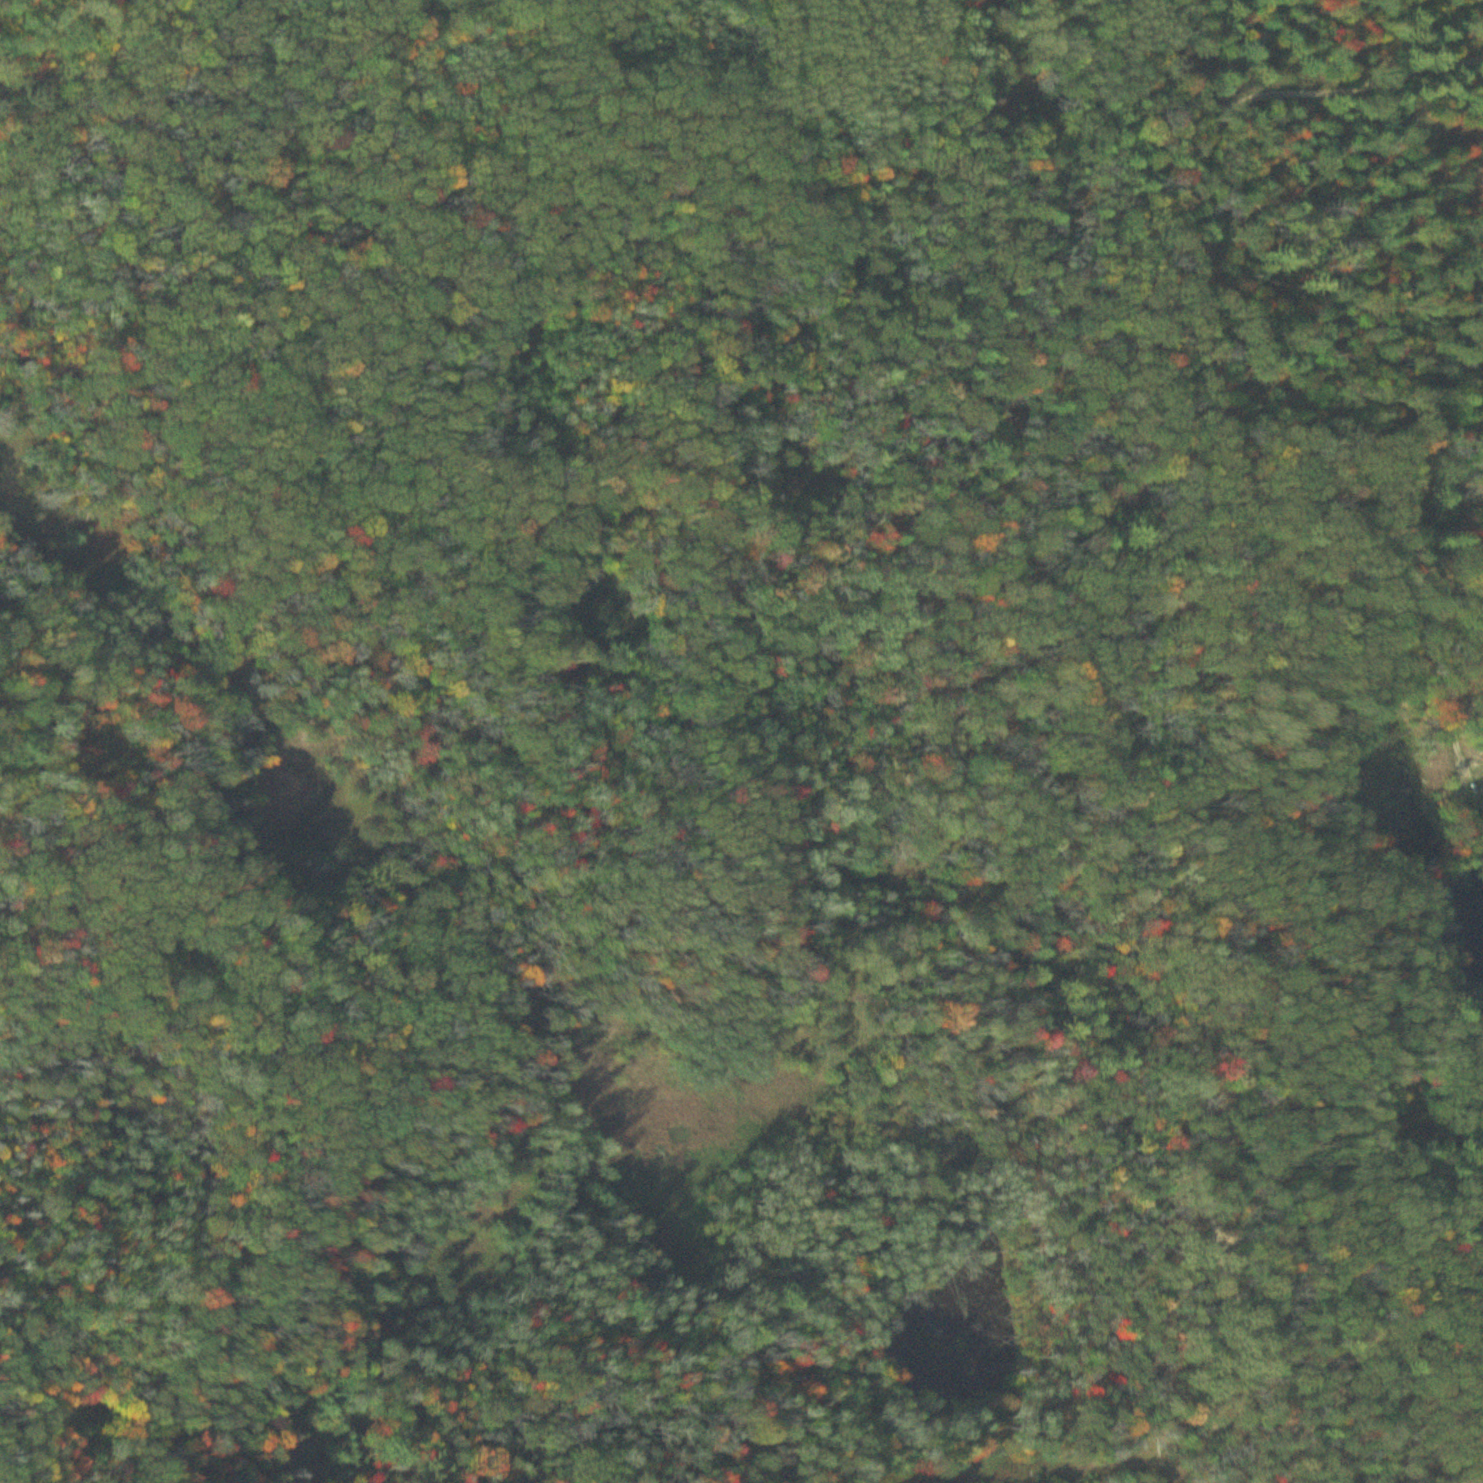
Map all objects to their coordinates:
road: (604, 131)
road: (1196, 292)
road: (1089, 856)
road: (1253, 1041)
road: (1352, 1248)

